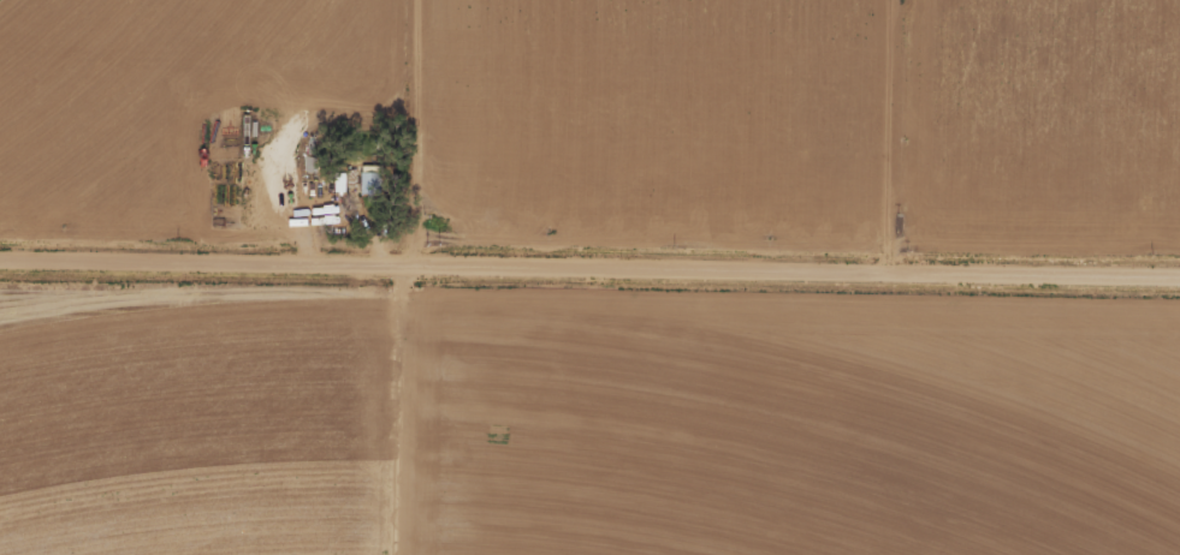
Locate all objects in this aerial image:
road: (399, 276)
road: (589, 281)

